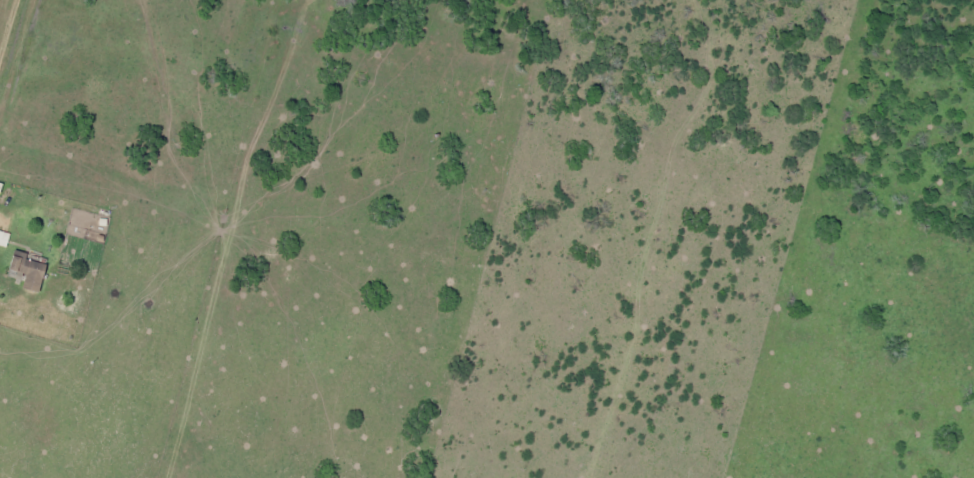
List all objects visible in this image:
building: (3, 236)

